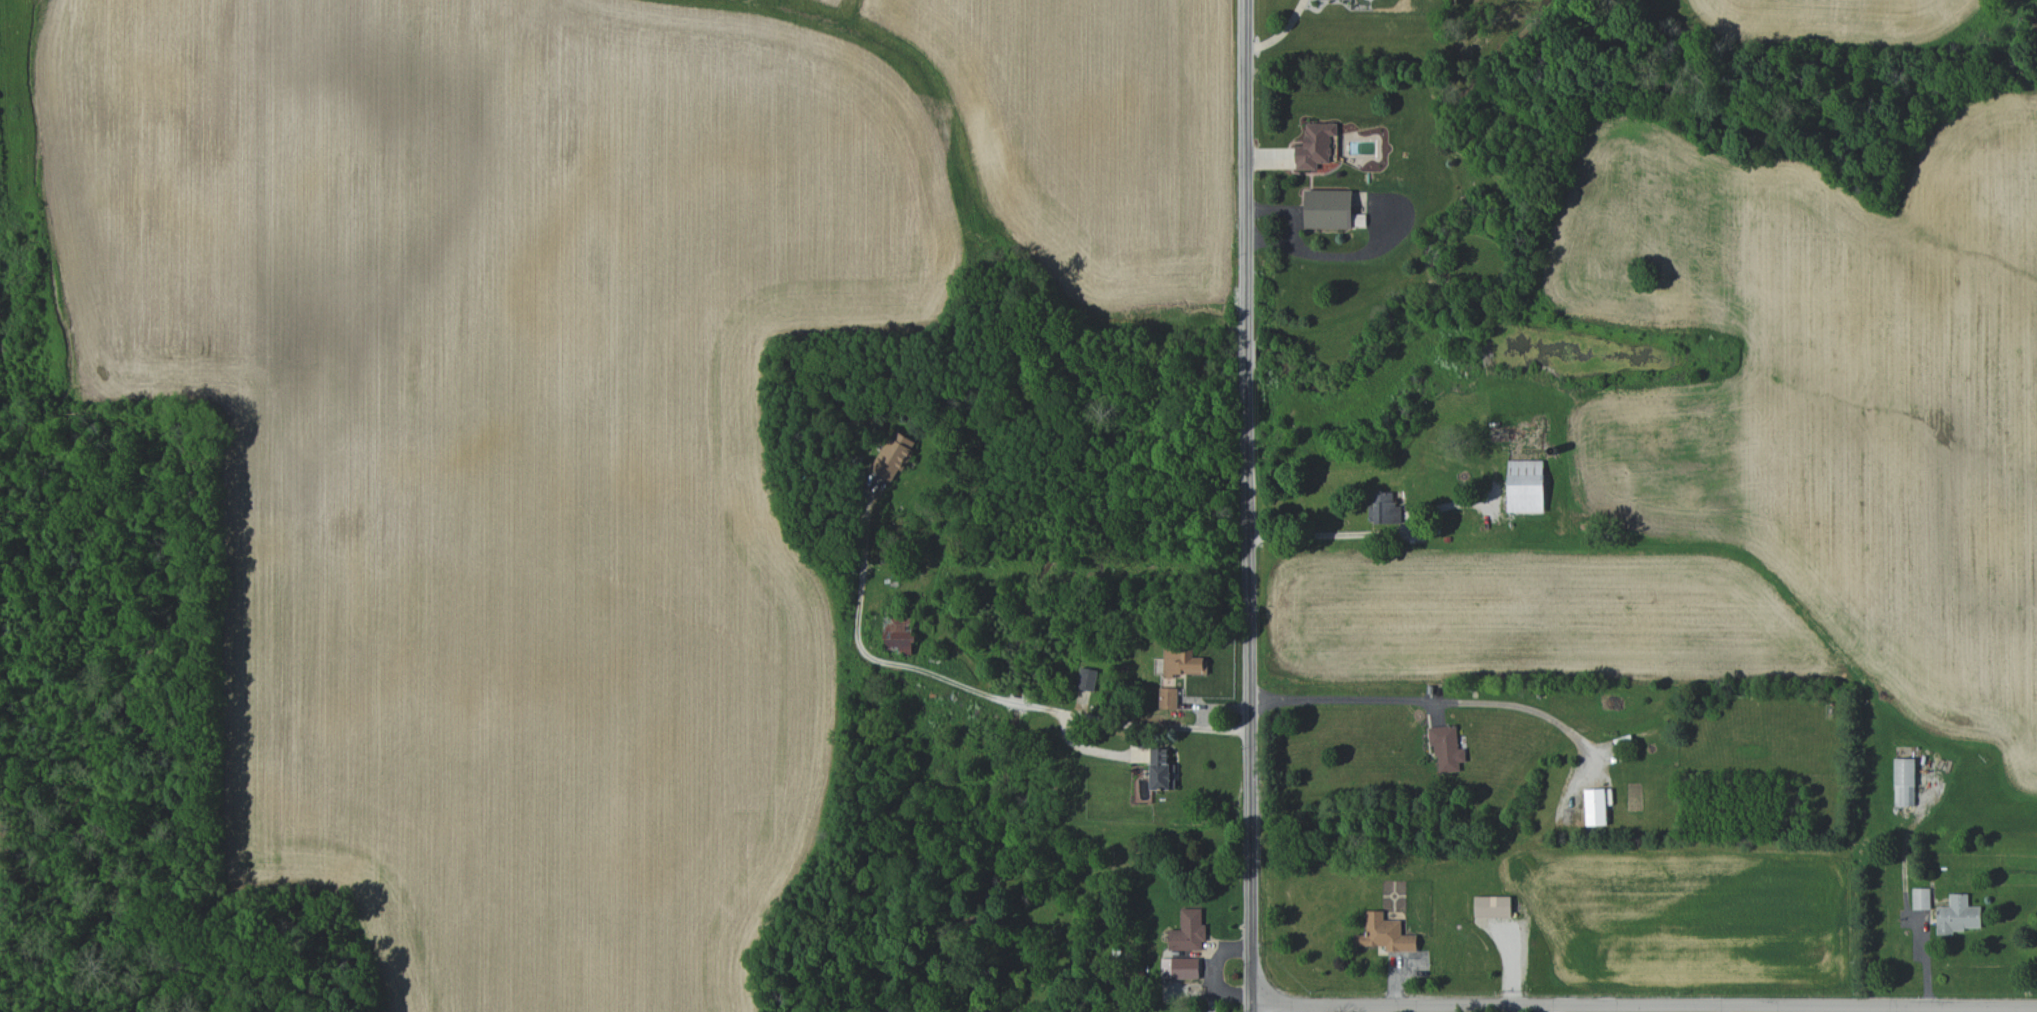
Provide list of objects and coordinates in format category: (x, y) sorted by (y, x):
road: (1281, 33)
building: (1315, 145)
building: (1328, 209)
building: (894, 455)
building: (1525, 486)
road: (1247, 505)
building: (1384, 509)
road: (1324, 533)
building: (898, 635)
building: (1183, 662)
building: (1087, 679)
road: (981, 691)
building: (1168, 698)
road: (1425, 699)
building: (1446, 748)
building: (1162, 770)
building: (1904, 782)
building: (1595, 807)
building: (1921, 898)
building: (1493, 906)
building: (1957, 915)
building: (1188, 931)
building: (1386, 934)
building: (1180, 968)
road: (1643, 1003)
road: (2018, 1009)

